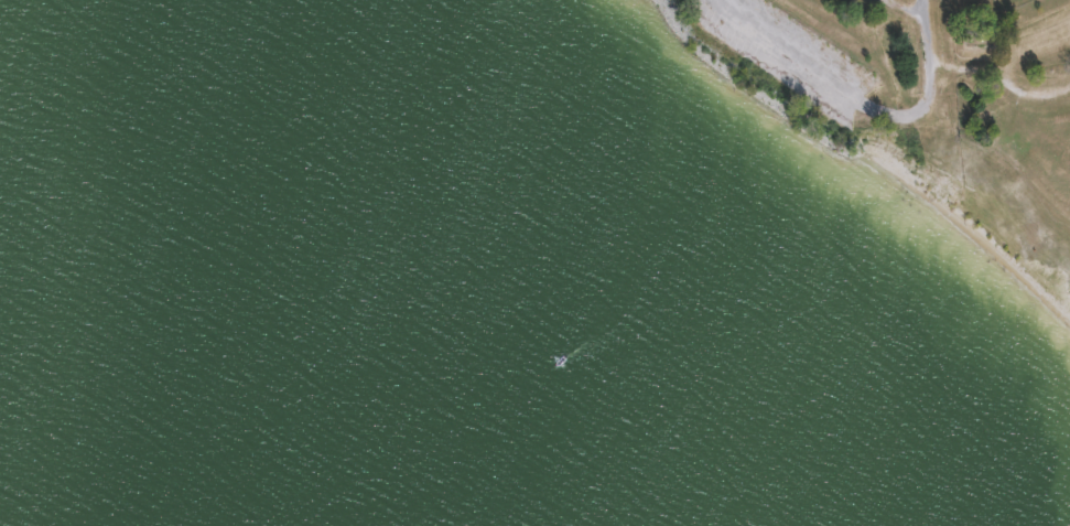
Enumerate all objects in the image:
road: (898, 19)
building: (973, 37)
road: (1030, 47)
parking lot: (790, 54)
road: (963, 68)
road: (1028, 93)
road: (864, 103)
park: (919, 109)

